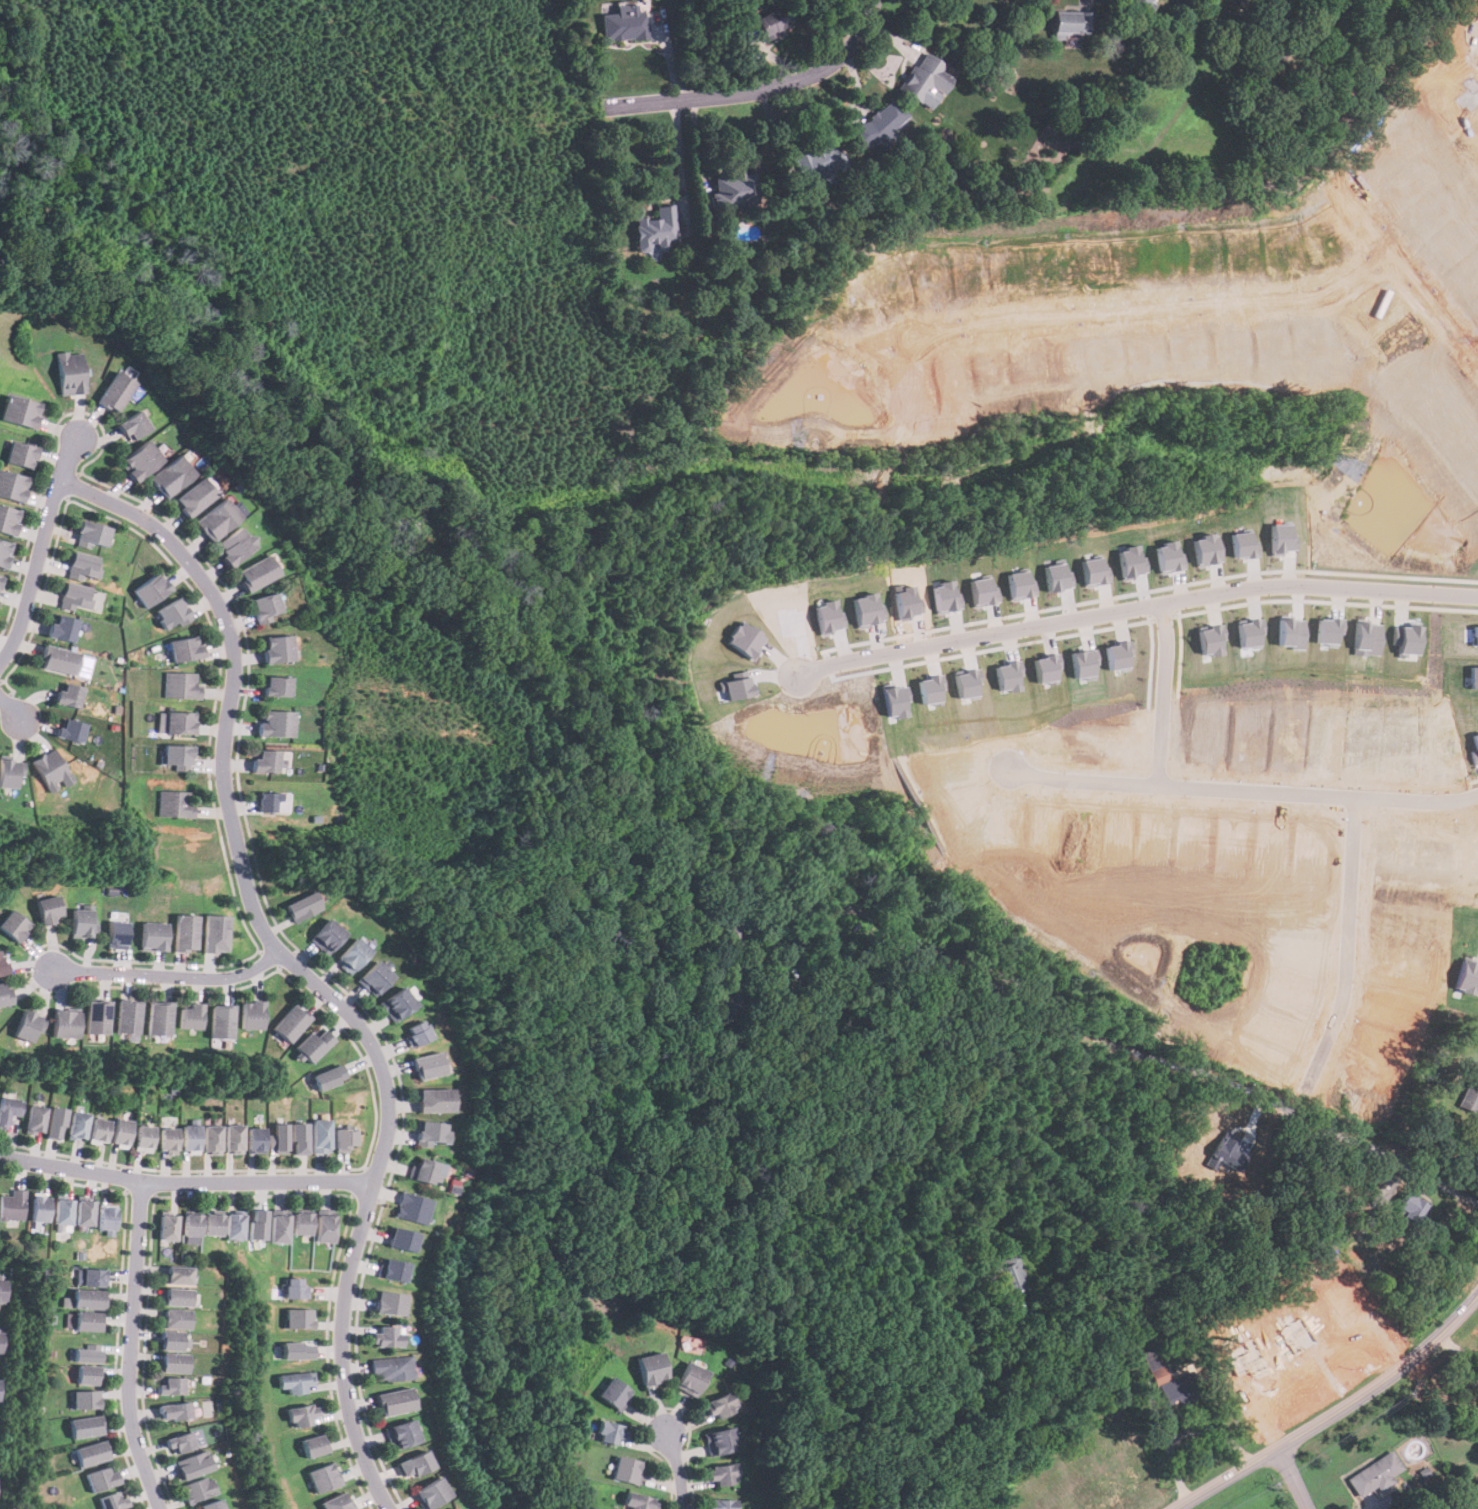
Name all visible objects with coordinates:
building: (1011, 0)
building: (1141, 3)
building: (1071, 21)
building: (771, 22)
building: (624, 23)
building: (924, 79)
road: (760, 90)
building: (874, 125)
road: (694, 151)
road: (679, 161)
building: (819, 162)
building: (733, 188)
building: (656, 228)
road: (1407, 260)
road: (1168, 311)
building: (71, 373)
building: (115, 391)
building: (19, 411)
building: (133, 425)
building: (19, 454)
building: (140, 460)
building: (171, 475)
building: (13, 486)
building: (195, 496)
building: (8, 519)
building: (217, 519)
building: (92, 533)
building: (234, 545)
building: (1242, 545)
road: (40, 550)
building: (4, 552)
building: (82, 566)
building: (255, 573)
building: (0, 578)
building: (152, 589)
building: (74, 596)
road: (1138, 606)
building: (263, 607)
building: (174, 614)
building: (61, 629)
building: (1330, 630)
building: (1251, 632)
building: (1474, 635)
building: (1368, 639)
building: (1212, 640)
building: (1408, 640)
building: (185, 648)
building: (275, 649)
building: (1120, 655)
building: (59, 659)
building: (1010, 675)
building: (1473, 677)
building: (182, 685)
building: (275, 686)
building: (69, 694)
road: (1175, 694)
road: (10, 709)
building: (180, 722)
building: (273, 723)
building: (70, 731)
building: (1474, 748)
building: (178, 756)
building: (264, 761)
building: (52, 770)
building: (9, 772)
road: (1249, 793)
building: (273, 802)
building: (176, 804)
building: (303, 906)
building: (47, 909)
building: (81, 923)
building: (12, 925)
building: (116, 932)
building: (185, 932)
building: (216, 933)
building: (327, 935)
building: (152, 936)
road: (1355, 945)
building: (353, 955)
building: (1, 964)
road: (296, 966)
road: (169, 976)
building: (375, 978)
road: (1009, 981)
building: (5, 994)
building: (397, 1003)
building: (730, 1004)
building: (252, 1015)
building: (191, 1016)
building: (97, 1017)
building: (128, 1017)
building: (160, 1018)
building: (222, 1021)
building: (291, 1022)
building: (65, 1023)
building: (29, 1025)
building: (416, 1031)
building: (315, 1044)
building: (427, 1065)
building: (328, 1076)
building: (1469, 1095)
building: (434, 1099)
building: (8, 1108)
building: (34, 1119)
building: (54, 1120)
building: (77, 1126)
building: (98, 1130)
building: (120, 1132)
building: (429, 1132)
building: (321, 1135)
building: (300, 1136)
building: (279, 1137)
building: (345, 1137)
building: (144, 1138)
building: (190, 1138)
building: (234, 1138)
building: (168, 1139)
building: (212, 1139)
building: (255, 1140)
road: (1361, 1143)
building: (424, 1169)
road: (185, 1182)
building: (12, 1206)
building: (38, 1207)
building: (412, 1207)
building: (1408, 1208)
building: (62, 1211)
building: (83, 1212)
building: (105, 1218)
building: (258, 1223)
building: (302, 1223)
building: (214, 1224)
building: (235, 1226)
building: (280, 1226)
building: (64, 1227)
building: (168, 1227)
building: (193, 1228)
building: (324, 1228)
building: (401, 1239)
building: (392, 1268)
building: (178, 1275)
building: (1011, 1276)
building: (90, 1277)
building: (296, 1288)
building: (2, 1291)
building: (177, 1297)
building: (83, 1299)
building: (387, 1302)
building: (300, 1318)
building: (176, 1319)
building: (87, 1321)
building: (385, 1336)
building: (1, 1339)
building: (172, 1339)
road: (131, 1348)
building: (299, 1350)
building: (86, 1354)
building: (174, 1363)
building: (390, 1368)
building: (649, 1368)
building: (87, 1374)
building: (690, 1379)
building: (297, 1382)
building: (1172, 1383)
building: (0, 1384)
building: (170, 1386)
building: (611, 1393)
building: (85, 1398)
building: (392, 1401)
building: (718, 1406)
building: (174, 1411)
road: (1334, 1414)
building: (304, 1415)
building: (85, 1427)
road: (1213, 1430)
building: (609, 1432)
building: (399, 1434)
road: (914, 1440)
building: (719, 1441)
building: (179, 1444)
building: (314, 1446)
road: (1168, 1448)
building: (91, 1453)
building: (411, 1463)
building: (191, 1464)
building: (625, 1470)
road: (678, 1470)
building: (722, 1475)
building: (1375, 1475)
building: (324, 1477)
building: (101, 1478)
road: (1293, 1478)
building: (198, 1489)
building: (428, 1494)
building: (1469, 1495)
building: (113, 1501)
building: (336, 1502)
building: (638, 1502)
building: (722, 1504)
building: (211, 1506)
building: (951, 1506)
building: (451, 1508)

